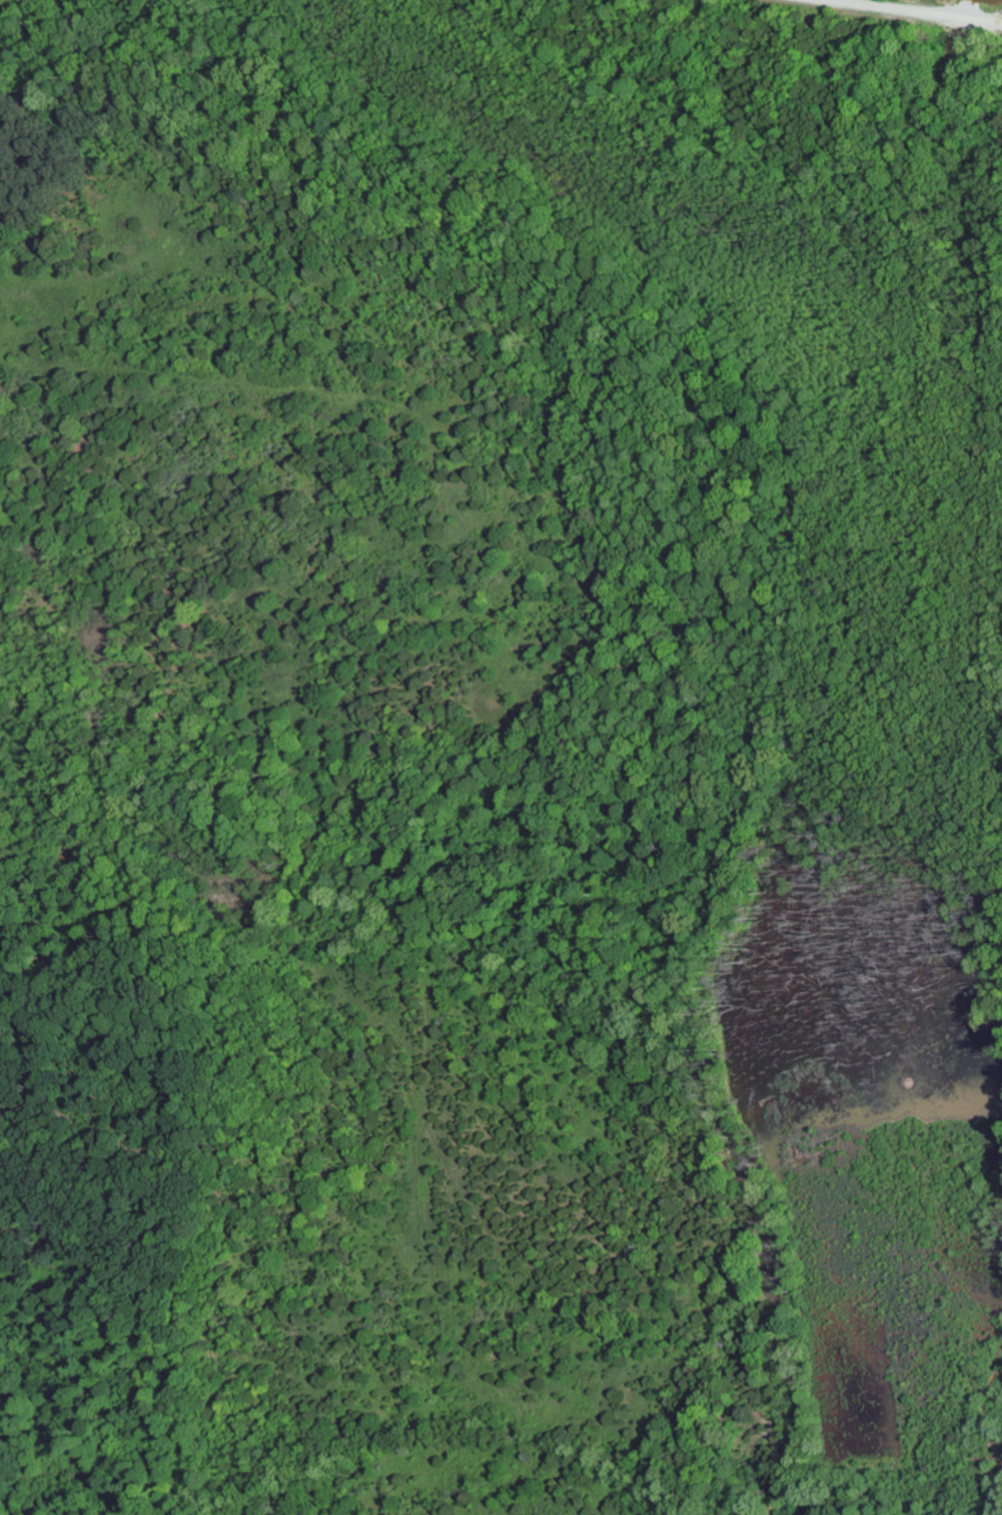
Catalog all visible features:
road: (918, 11)

